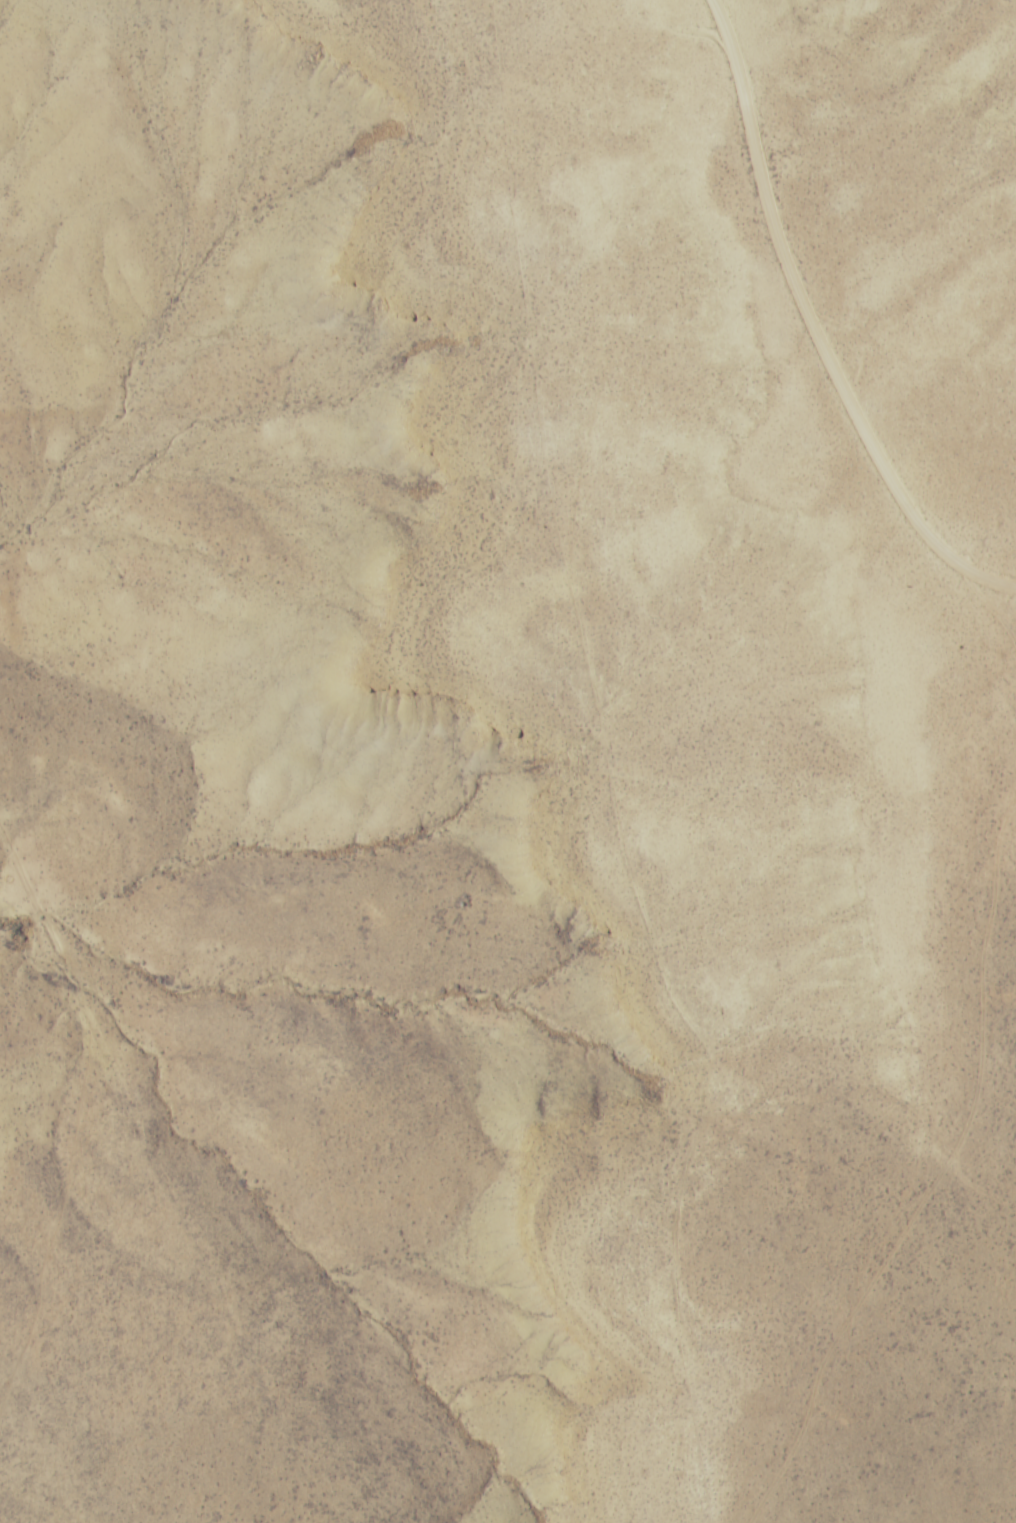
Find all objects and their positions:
road: (809, 327)

